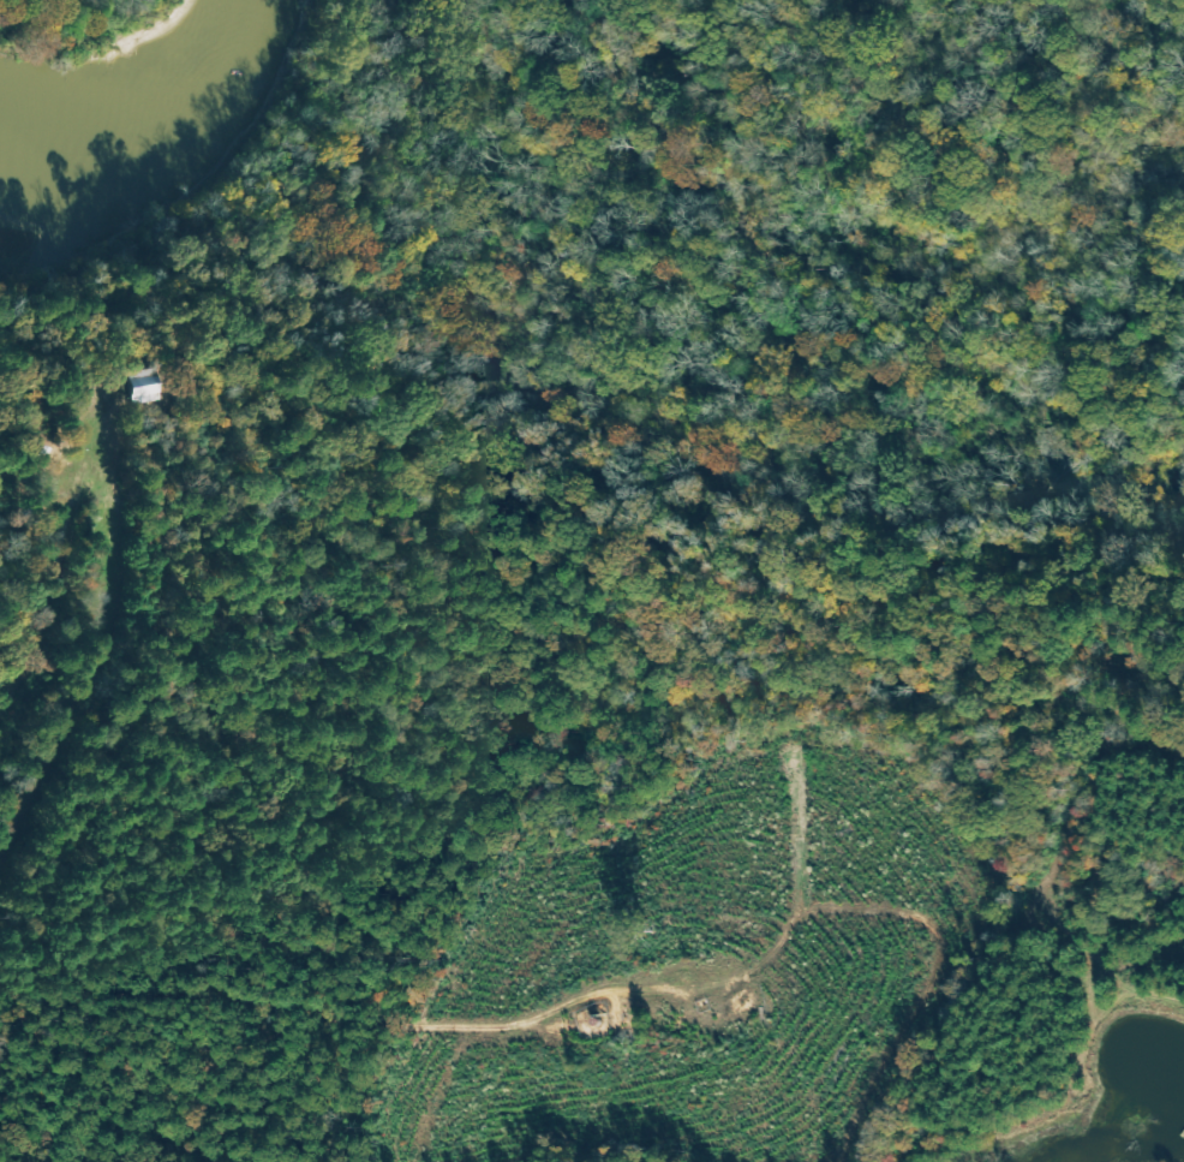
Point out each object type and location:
river: (169, 151)
building: (138, 386)
road: (336, 1032)

